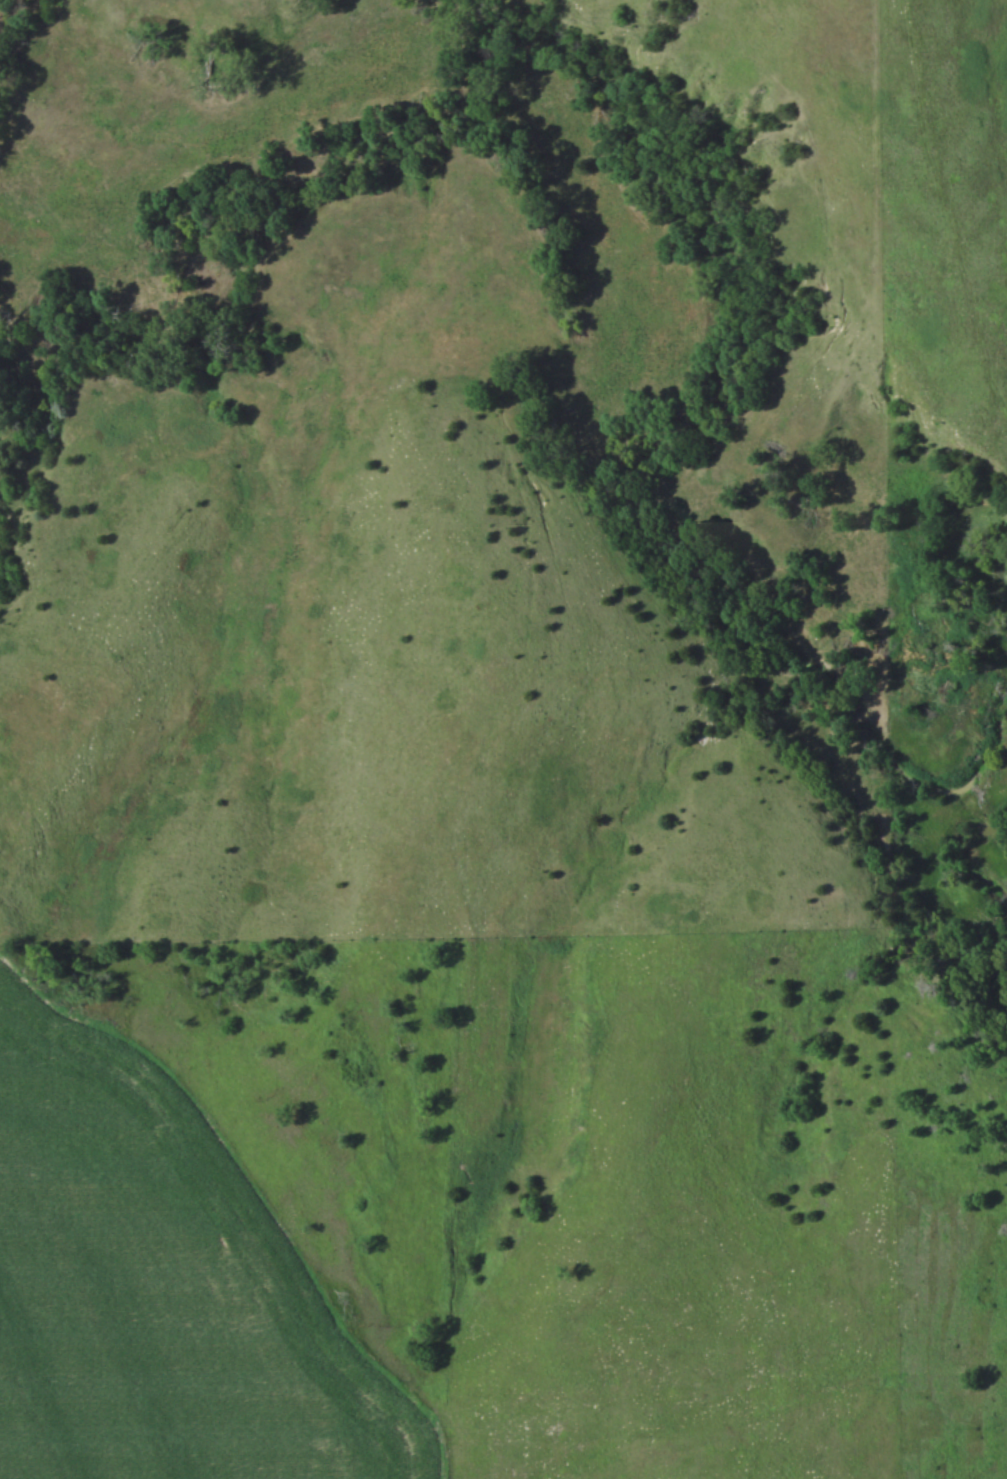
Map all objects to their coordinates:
park: (948, 1199)
crop: (162, 1289)

